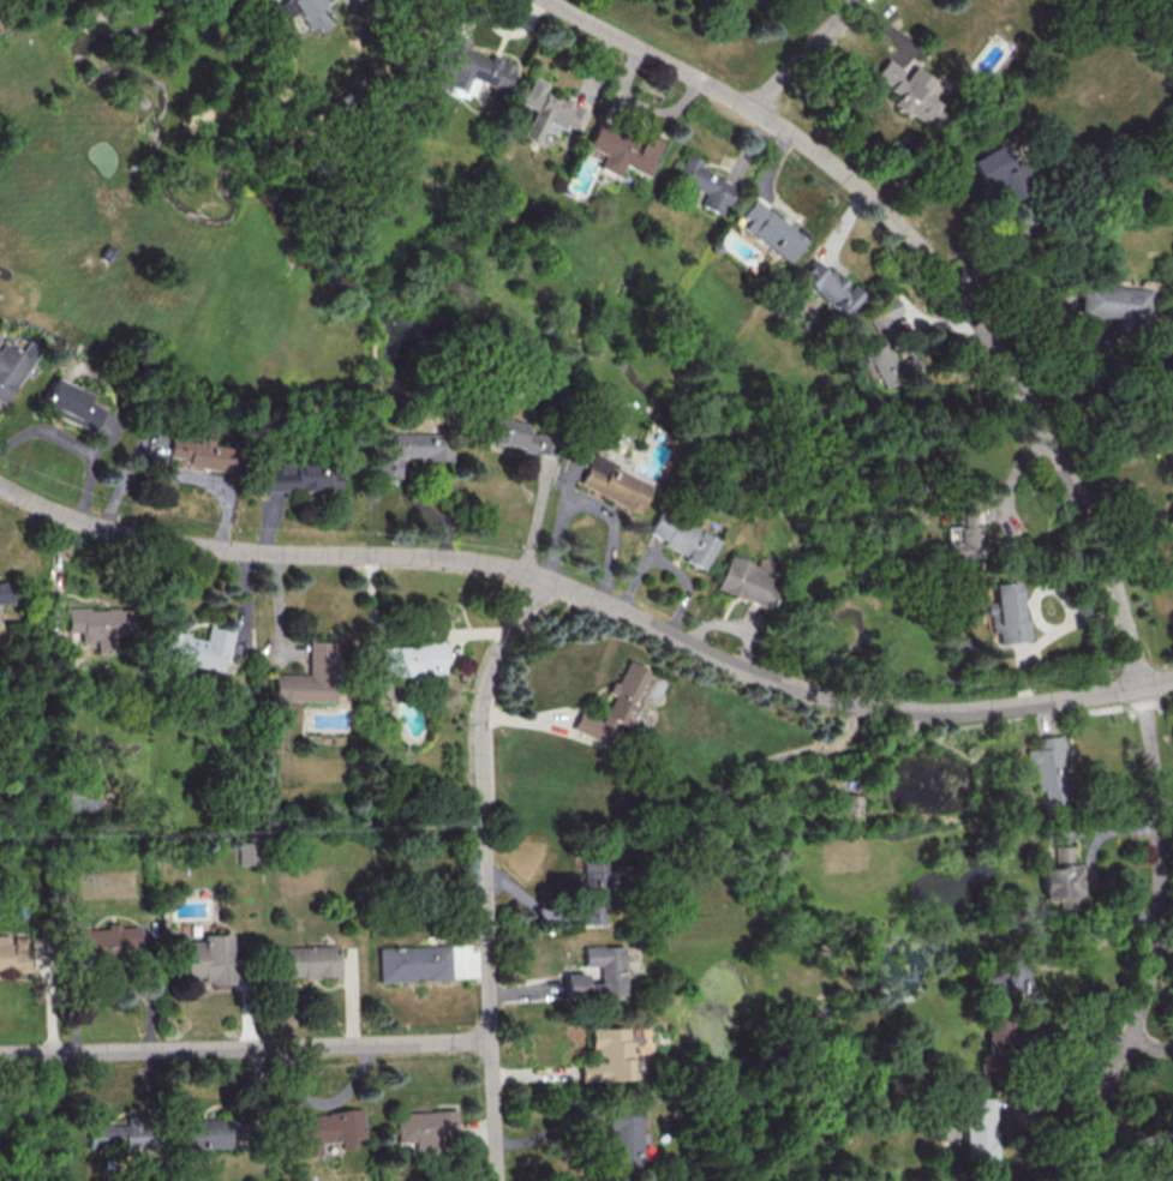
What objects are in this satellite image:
building: (306, 12)
road: (802, 53)
building: (467, 68)
building: (910, 88)
building: (550, 110)
building: (621, 149)
road: (145, 166)
building: (999, 173)
building: (707, 184)
building: (773, 230)
road: (936, 263)
building: (830, 286)
river: (526, 289)
building: (1115, 301)
building: (884, 317)
road: (1125, 353)
building: (881, 364)
building: (12, 365)
building: (70, 404)
building: (504, 432)
road: (72, 443)
building: (408, 450)
building: (199, 452)
road: (180, 473)
building: (300, 476)
building: (611, 484)
building: (1171, 516)
building: (963, 536)
building: (681, 539)
building: (743, 581)
road: (575, 590)
building: (5, 592)
building: (1006, 612)
building: (97, 625)
road: (403, 633)
building: (194, 648)
building: (408, 659)
building: (309, 676)
road: (1156, 681)
river: (860, 702)
building: (614, 706)
building: (275, 737)
building: (1047, 769)
building: (849, 804)
building: (246, 850)
road: (484, 873)
building: (1061, 879)
building: (593, 892)
road: (1157, 937)
building: (106, 941)
river: (816, 946)
building: (16, 958)
building: (210, 958)
road: (1163, 959)
building: (312, 964)
building: (417, 965)
building: (599, 972)
road: (1027, 979)
building: (998, 1023)
road: (1151, 1041)
road: (245, 1045)
building: (606, 1055)
building: (429, 1128)
building: (976, 1128)
building: (330, 1131)
building: (216, 1134)
building: (624, 1135)
building: (121, 1138)

